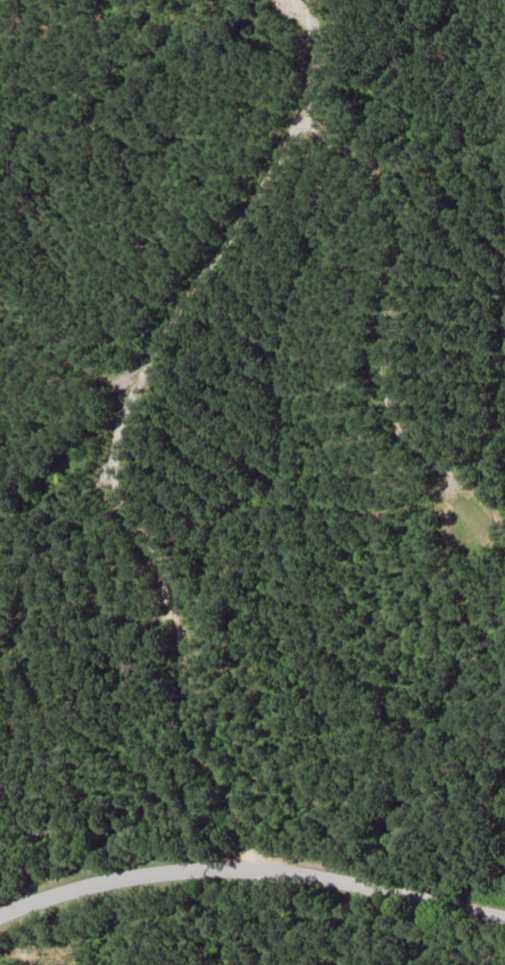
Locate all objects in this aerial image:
road: (252, 868)

